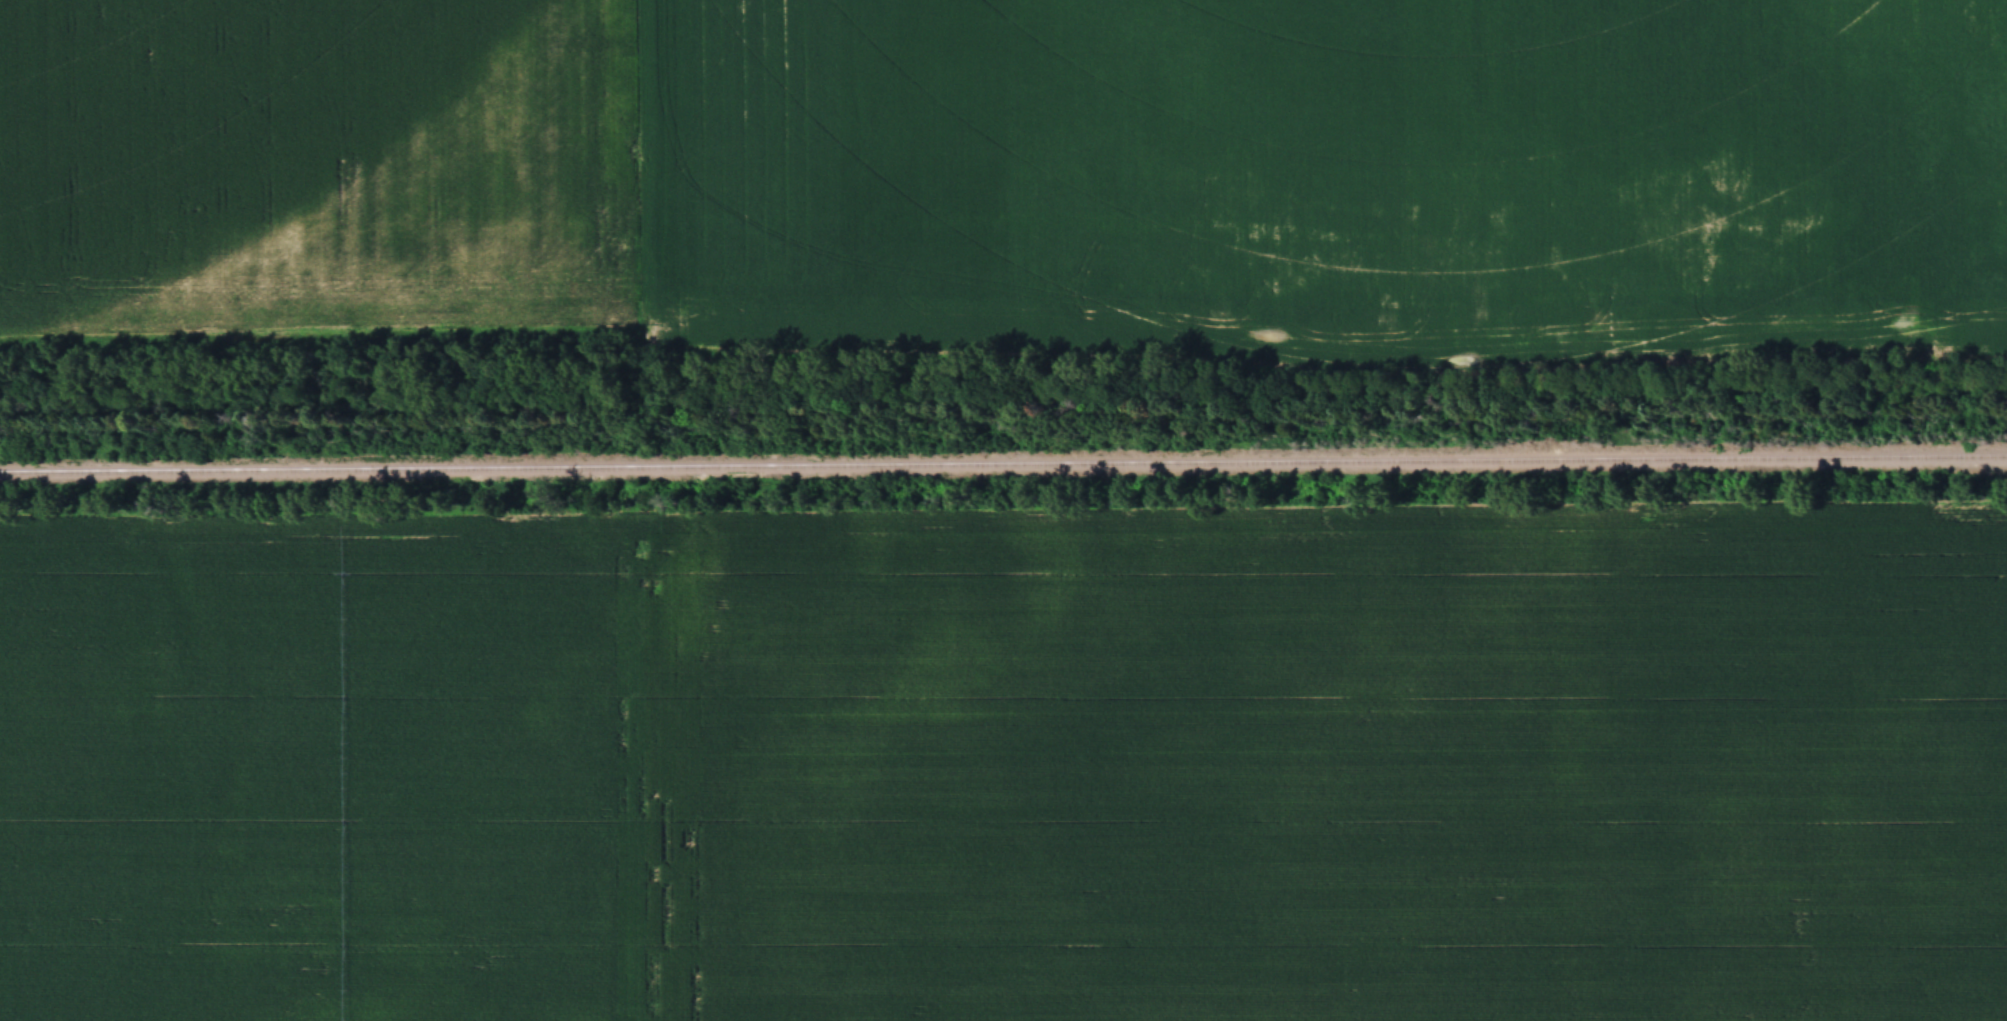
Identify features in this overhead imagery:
railway: (1003, 465)

